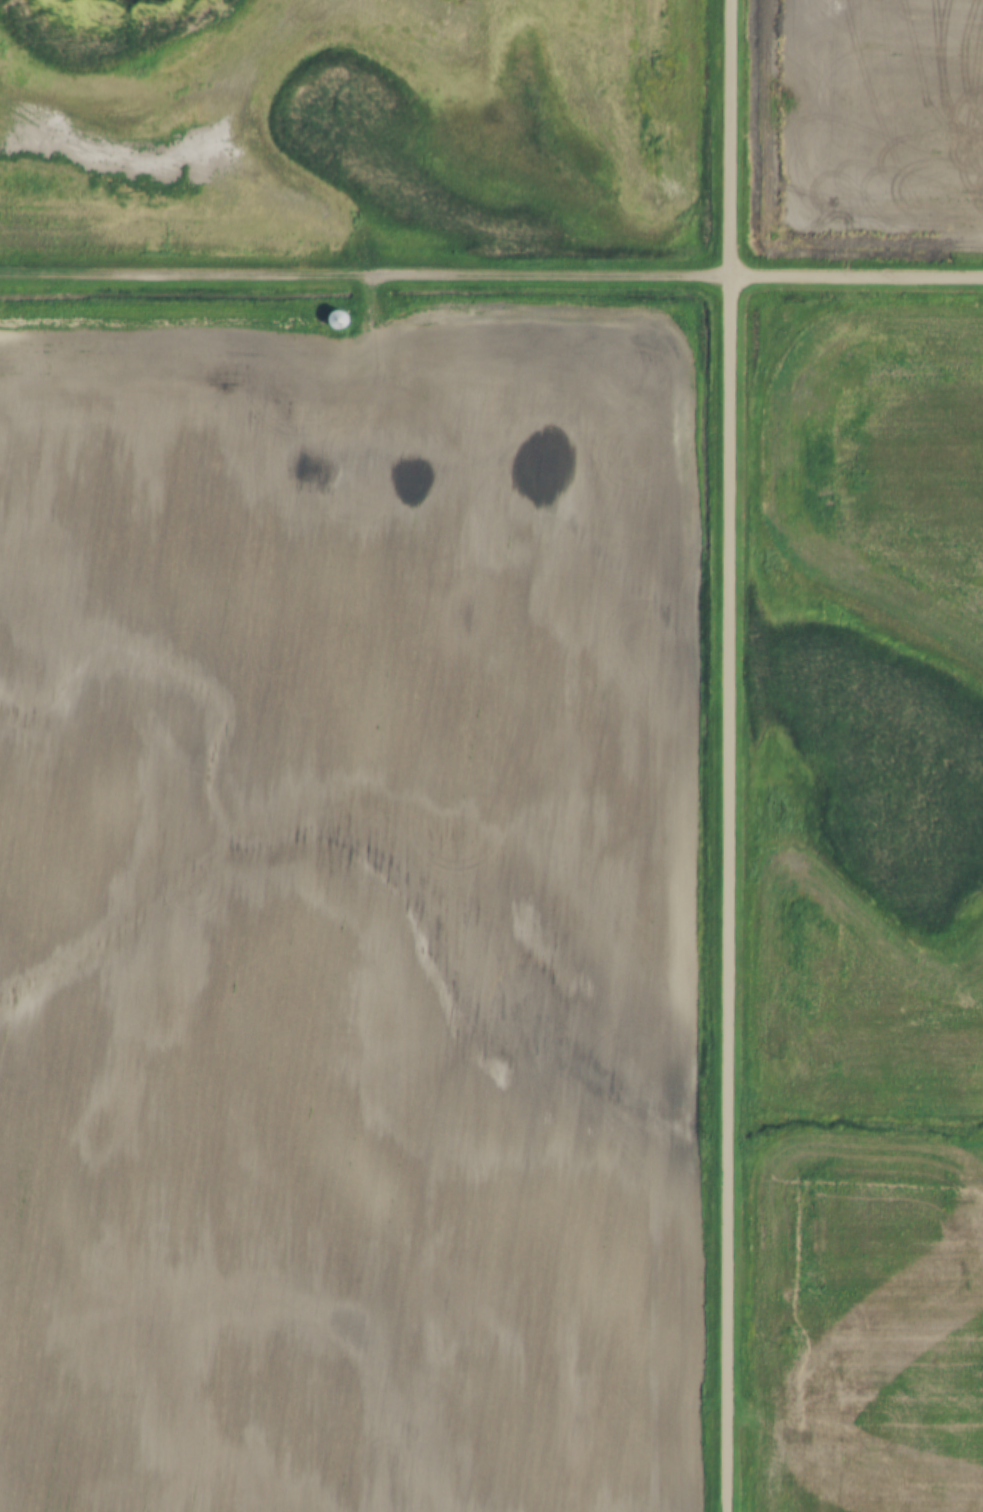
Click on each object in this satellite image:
road: (363, 272)
road: (854, 273)
building: (343, 319)
road: (726, 756)

